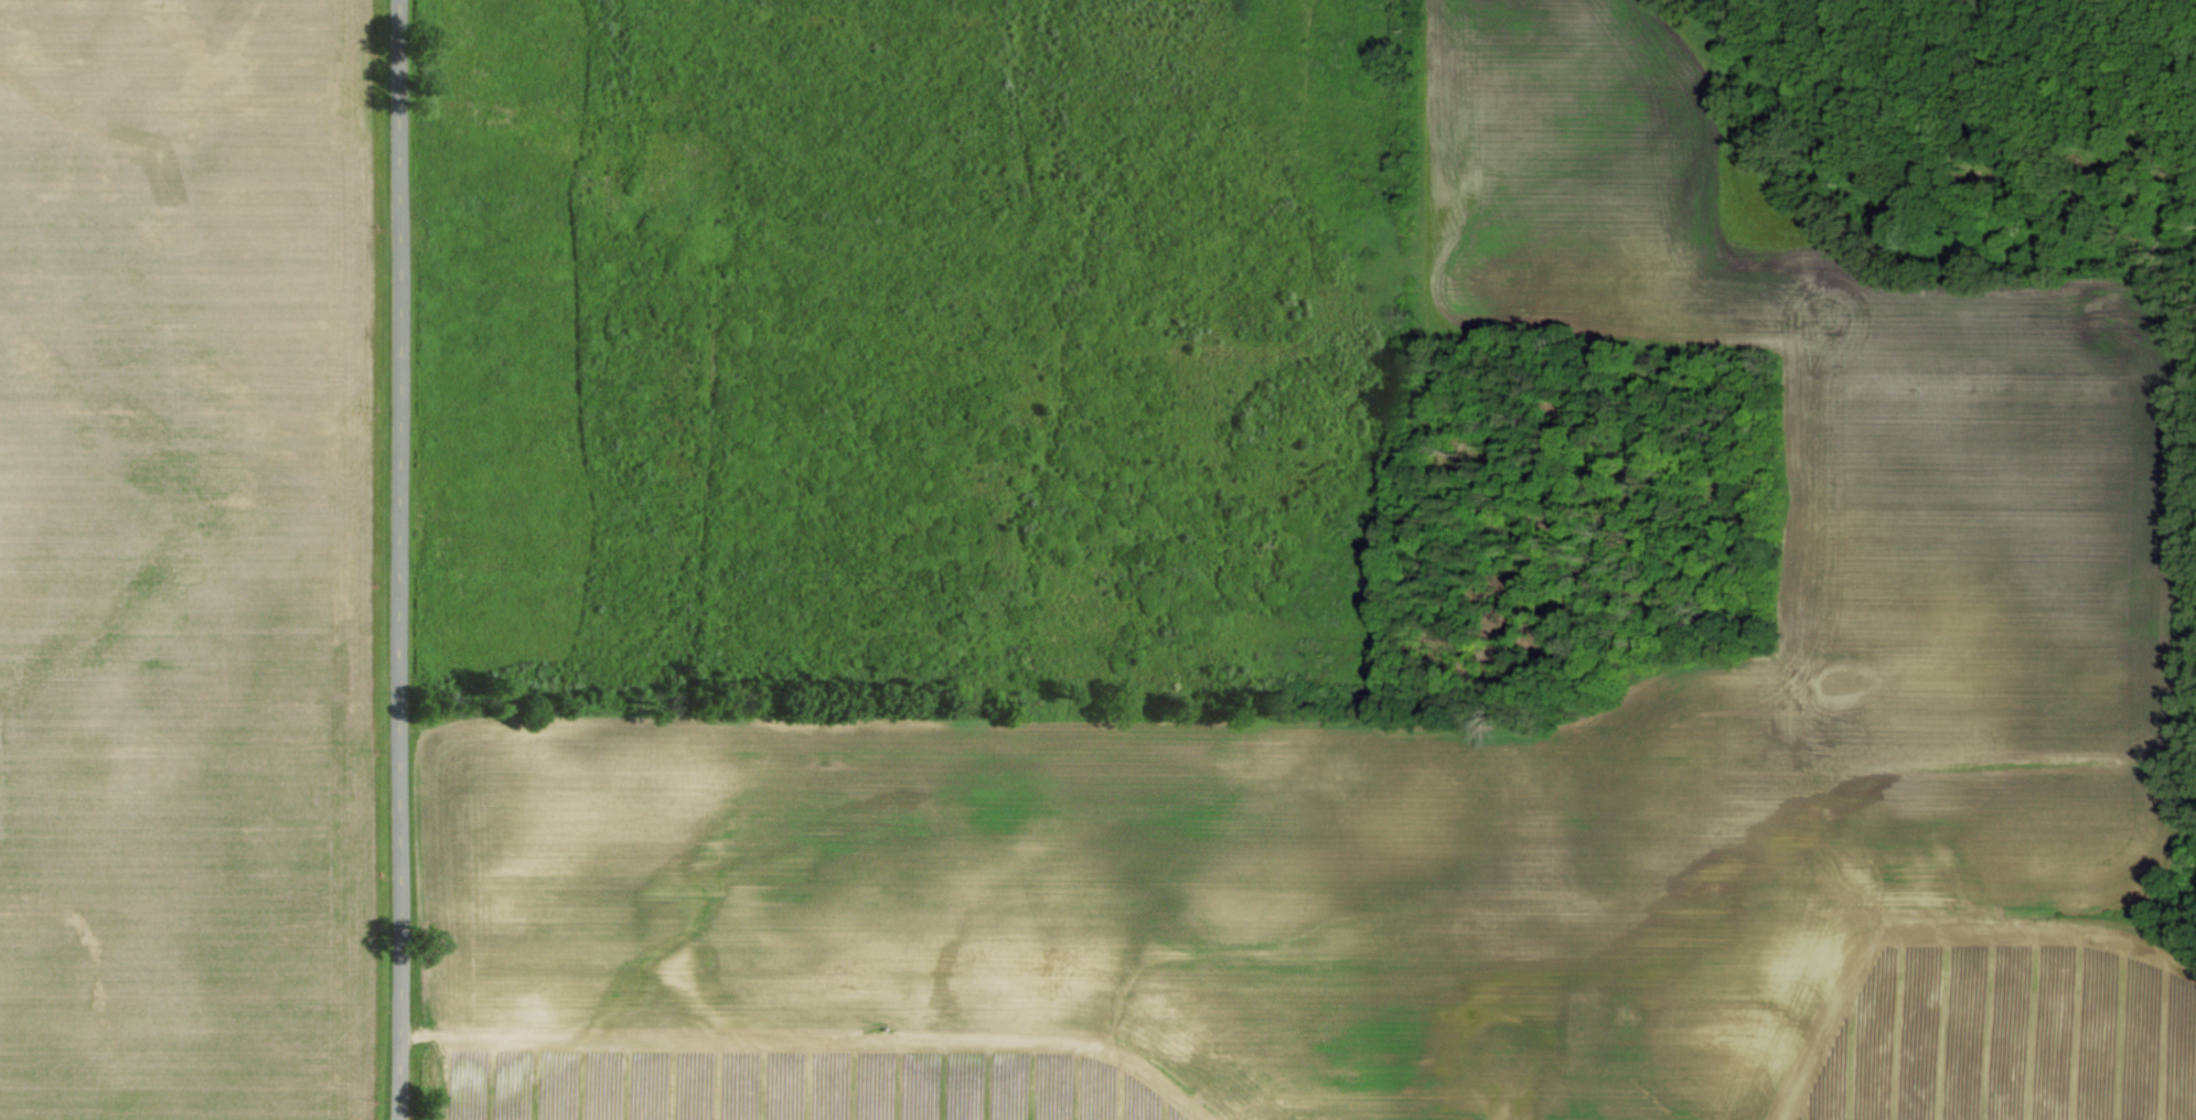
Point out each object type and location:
road: (408, 560)

